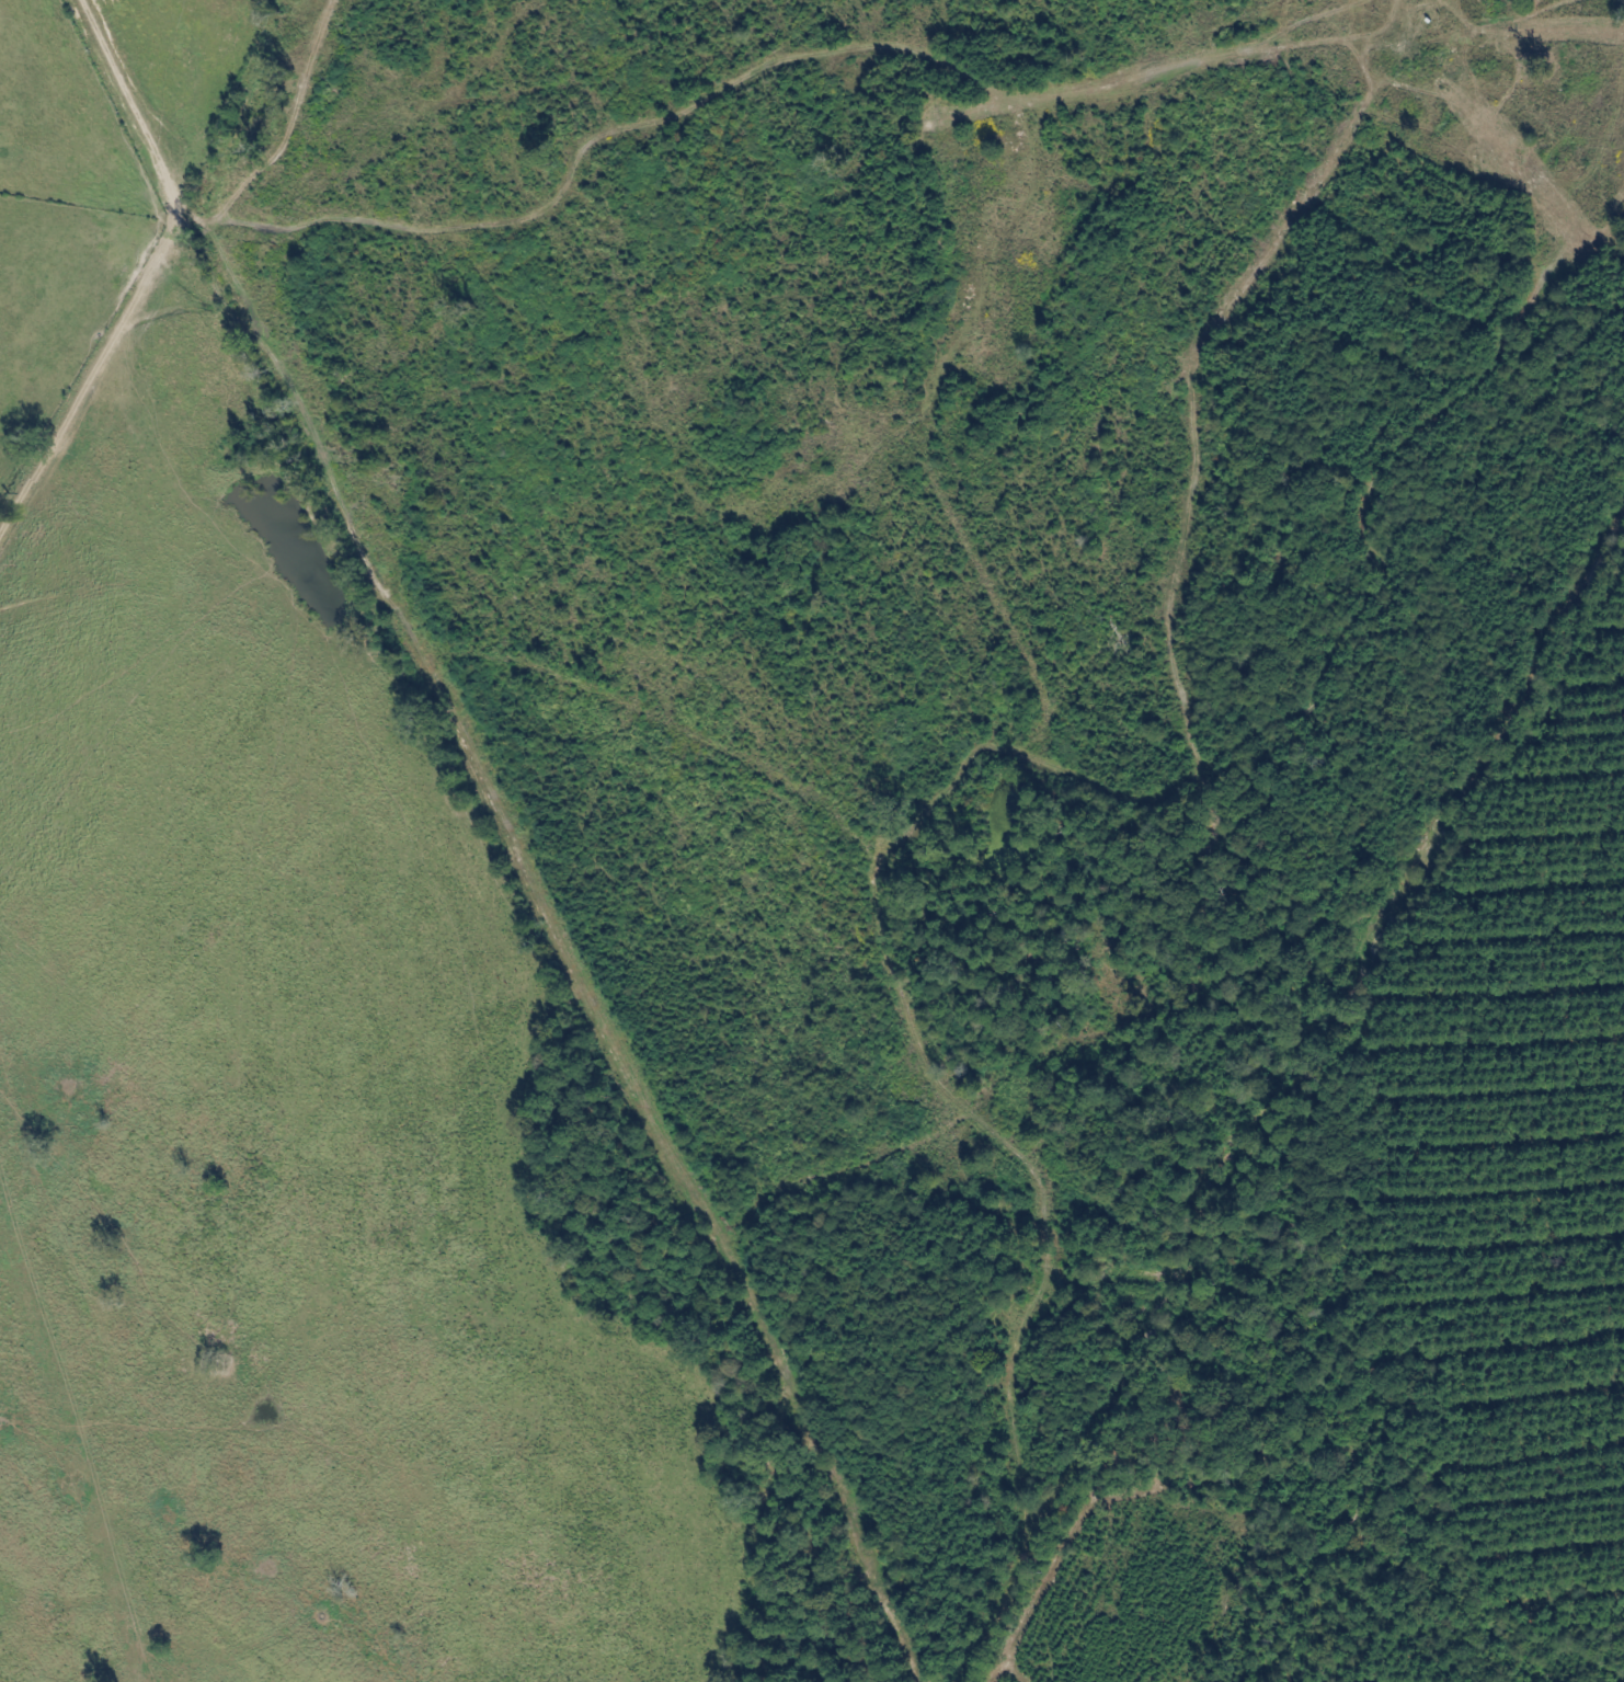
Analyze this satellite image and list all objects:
road: (135, 255)

